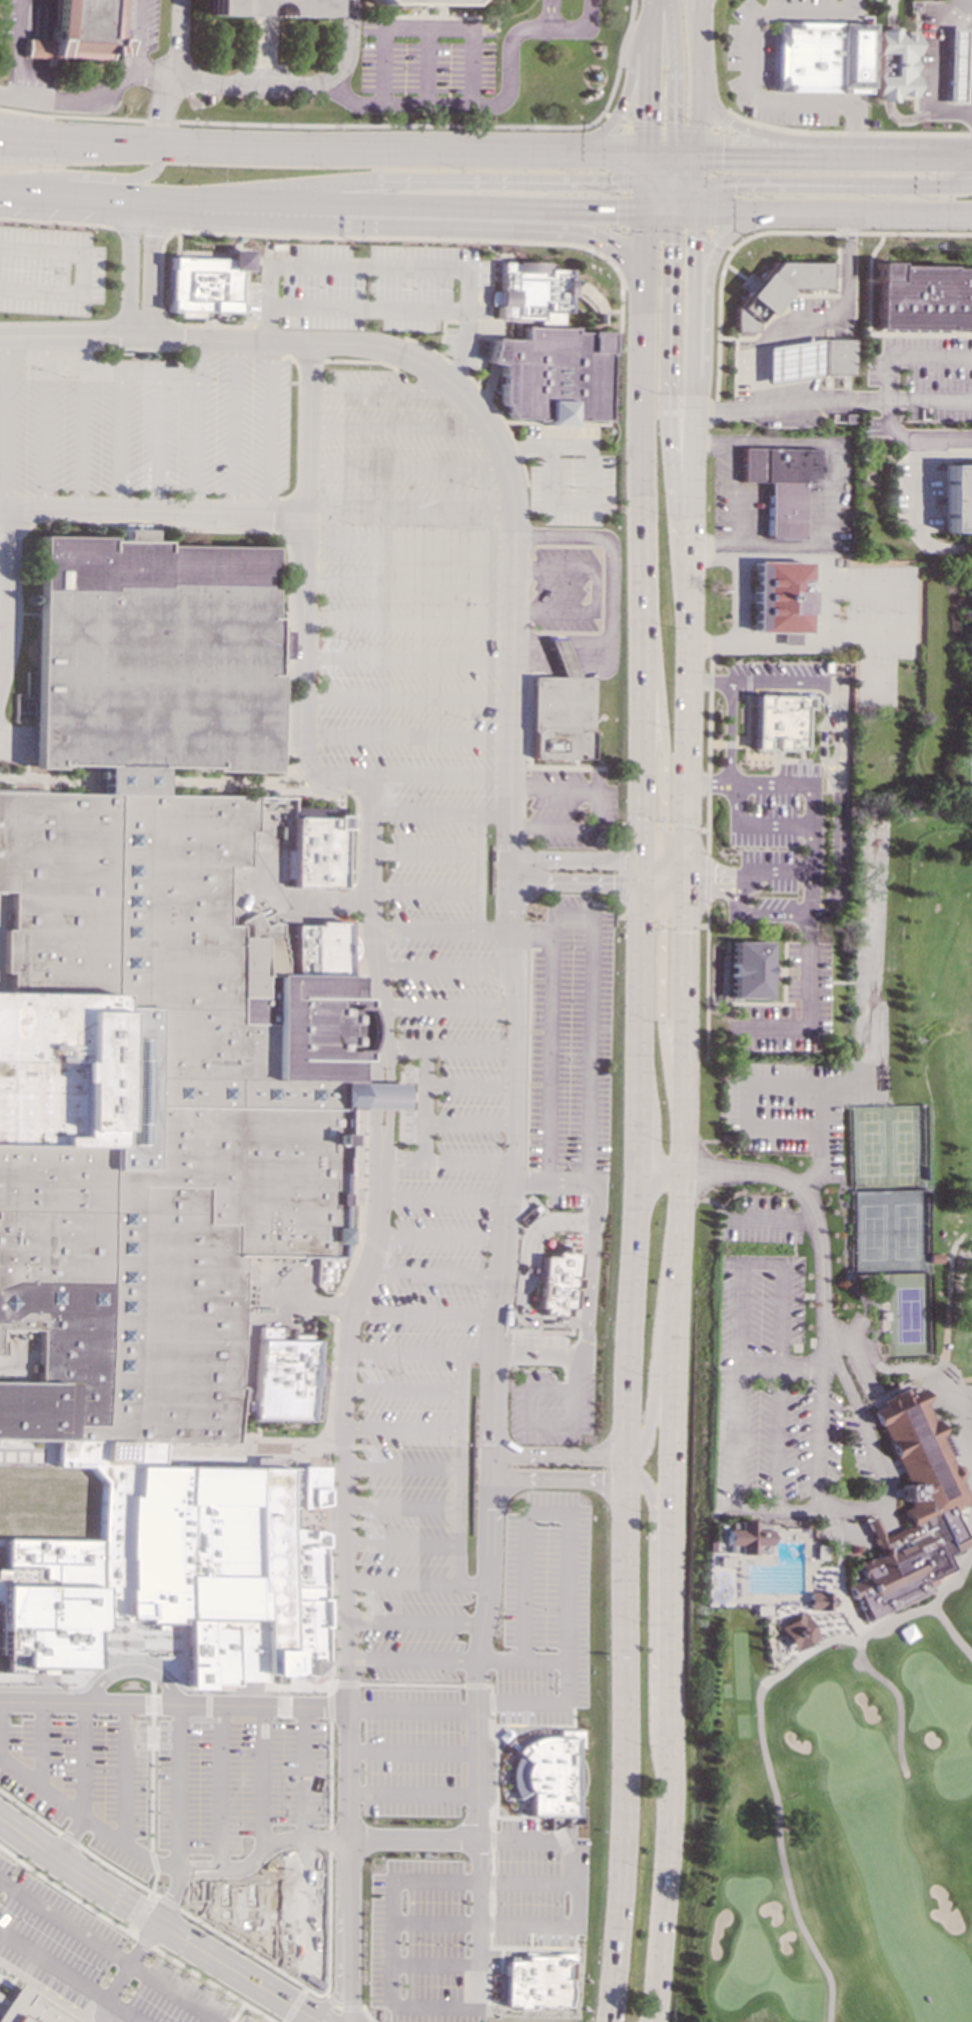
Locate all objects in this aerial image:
building: (420, 2)
road: (697, 2)
road: (698, 2)
building: (297, 8)
road: (548, 15)
road: (648, 26)
building: (83, 28)
road: (345, 45)
road: (17, 47)
building: (821, 58)
building: (893, 64)
building: (953, 65)
road: (696, 66)
road: (753, 68)
road: (673, 76)
road: (613, 86)
road: (624, 95)
road: (90, 101)
road: (381, 102)
road: (647, 102)
road: (165, 114)
traffic signals: (616, 114)
road: (71, 116)
road: (614, 118)
road: (722, 120)
traffic signals: (647, 121)
traffic signals: (673, 122)
road: (345, 125)
road: (670, 127)
road: (849, 132)
road: (765, 134)
road: (27, 140)
road: (696, 141)
road: (913, 142)
road: (854, 148)
road: (350, 150)
road: (659, 153)
road: (684, 154)
traffic signals: (721, 154)
road: (775, 154)
road: (913, 156)
road: (673, 159)
road: (685, 159)
road: (654, 162)
road: (647, 165)
road: (667, 168)
road: (695, 171)
road: (654, 174)
road: (961, 175)
road: (88, 176)
road: (623, 177)
road: (678, 178)
road: (713, 180)
road: (415, 181)
traffic signals: (614, 183)
road: (665, 183)
traffic signals: (729, 184)
road: (822, 185)
road: (961, 186)
road: (688, 189)
road: (646, 193)
road: (675, 193)
road: (64, 194)
road: (695, 199)
road: (688, 201)
road: (387, 203)
road: (657, 203)
road: (669, 203)
traffic signals: (616, 209)
road: (658, 210)
road: (682, 210)
road: (807, 211)
road: (946, 214)
road: (55, 222)
road: (645, 225)
road: (141, 229)
road: (441, 229)
road: (665, 231)
road: (768, 232)
road: (385, 238)
traffic signals: (695, 238)
road: (721, 240)
road: (612, 243)
traffic signals: (672, 243)
traffic signals: (605, 244)
traffic signals: (718, 247)
road: (127, 267)
road: (388, 267)
road: (149, 269)
parking lot: (49, 271)
road: (79, 272)
road: (244, 276)
building: (202, 285)
parking lot: (375, 290)
building: (532, 290)
building: (776, 290)
road: (670, 291)
road: (707, 293)
building: (923, 298)
road: (367, 309)
road: (693, 310)
road: (814, 320)
road: (62, 335)
road: (642, 335)
road: (364, 346)
road: (429, 348)
road: (402, 353)
road: (254, 354)
building: (837, 355)
road: (908, 358)
road: (308, 360)
road: (360, 361)
building: (792, 361)
road: (459, 368)
road: (138, 371)
building: (553, 374)
road: (474, 381)
road: (384, 388)
road: (680, 392)
road: (668, 395)
road: (486, 396)
road: (833, 400)
road: (3, 421)
road: (43, 421)
road: (504, 421)
road: (80, 422)
parking lot: (144, 425)
road: (195, 425)
road: (298, 426)
road: (233, 427)
road: (270, 427)
road: (400, 428)
parking lot: (534, 430)
road: (558, 431)
parking lot: (588, 432)
road: (916, 439)
road: (117, 440)
road: (156, 441)
road: (518, 449)
road: (925, 449)
road: (518, 450)
road: (408, 467)
road: (136, 469)
road: (526, 473)
road: (730, 480)
road: (166, 481)
building: (781, 483)
road: (136, 486)
parking lot: (574, 488)
road: (673, 490)
road: (833, 493)
road: (592, 496)
building: (957, 498)
road: (916, 499)
road: (412, 506)
road: (153, 510)
road: (277, 516)
road: (689, 527)
building: (133, 535)
road: (3, 543)
road: (411, 543)
road: (306, 544)
road: (612, 568)
road: (3, 583)
road: (410, 583)
road: (6, 588)
parking lot: (565, 589)
road: (595, 590)
building: (778, 598)
road: (823, 605)
road: (3, 621)
road: (409, 621)
road: (887, 637)
road: (641, 645)
road: (534, 656)
road: (562, 657)
road: (1, 659)
road: (409, 660)
road: (912, 666)
road: (513, 694)
road: (408, 700)
building: (561, 710)
building: (777, 721)
road: (662, 733)
road: (729, 733)
road: (287, 734)
road: (407, 737)
road: (843, 740)
road: (708, 749)
road: (686, 753)
road: (830, 764)
road: (436, 776)
road: (711, 783)
road: (392, 786)
road: (388, 803)
parking lot: (570, 807)
road: (596, 810)
road: (372, 811)
road: (441, 813)
traffic signals: (640, 818)
traffic signals: (663, 818)
road: (646, 824)
road: (810, 824)
road: (688, 827)
building: (319, 852)
road: (426, 853)
road: (575, 860)
road: (653, 861)
road: (675, 862)
road: (619, 863)
road: (696, 868)
road: (810, 869)
road: (480, 872)
road: (639, 872)
road: (648, 873)
road: (685, 874)
traffic signals: (713, 874)
road: (721, 874)
road: (673, 875)
road: (773, 875)
road: (696, 880)
road: (707, 880)
road: (574, 882)
traffic signals: (612, 883)
road: (648, 884)
road: (671, 885)
road: (426, 891)
road: (355, 899)
road: (278, 901)
road: (619, 908)
road: (753, 913)
road: (572, 915)
road: (637, 919)
road: (373, 924)
road: (679, 924)
road: (359, 928)
road: (440, 930)
traffic signals: (661, 931)
traffic signals: (684, 931)
road: (391, 934)
road: (531, 935)
road: (400, 939)
road: (374, 941)
road: (385, 958)
road: (396, 958)
parking lot: (420, 958)
road: (444, 968)
building: (748, 969)
road: (683, 972)
road: (705, 982)
road: (803, 999)
road: (660, 1007)
road: (448, 1008)
parking lot: (570, 1036)
road: (447, 1048)
road: (378, 1085)
road: (469, 1086)
road: (423, 1104)
building: (158, 1115)
road: (636, 1121)
road: (469, 1124)
park: (884, 1147)
road: (680, 1157)
road: (400, 1159)
road: (468, 1161)
road: (657, 1177)
road: (548, 1181)
parking lot: (562, 1198)
road: (442, 1199)
road: (772, 1221)
park: (886, 1232)
road: (439, 1238)
road: (757, 1264)
road: (593, 1268)
road: (502, 1270)
road: (433, 1275)
road: (526, 1275)
building: (559, 1281)
road: (820, 1312)
road: (426, 1313)
road: (736, 1314)
road: (778, 1314)
park: (909, 1316)
road: (663, 1339)
parking lot: (545, 1341)
road: (424, 1352)
road: (540, 1354)
road: (756, 1365)
road: (799, 1365)
road: (348, 1368)
road: (366, 1369)
road: (372, 1370)
road: (581, 1371)
building: (288, 1379)
road: (408, 1390)
parking lot: (557, 1407)
road: (631, 1408)
road: (861, 1419)
road: (537, 1425)
road: (409, 1427)
road: (777, 1437)
road: (370, 1446)
road: (351, 1447)
road: (338, 1448)
road: (564, 1455)
road: (384, 1457)
road: (634, 1461)
road: (468, 1468)
road: (630, 1468)
road: (410, 1469)
road: (634, 1473)
road: (564, 1478)
road: (733, 1484)
park: (837, 1486)
road: (409, 1505)
building: (912, 1509)
road: (349, 1522)
road: (370, 1523)
road: (377, 1524)
road: (335, 1526)
building: (747, 1536)
road: (575, 1538)
road: (409, 1544)
road: (422, 1582)
road: (369, 1599)
building: (819, 1600)
road: (377, 1602)
road: (351, 1604)
road: (338, 1611)
parking lot: (549, 1612)
road: (189, 1622)
road: (419, 1623)
road: (656, 1625)
road: (951, 1630)
building: (796, 1632)
road: (670, 1639)
road: (414, 1659)
road: (155, 1664)
road: (134, 1670)
road: (155, 1674)
road: (179, 1684)
road: (350, 1684)
road: (414, 1684)
road: (477, 1685)
road: (154, 1687)
road: (336, 1687)
road: (493, 1688)
road: (897, 1694)
road: (493, 1703)
road: (545, 1703)
road: (154, 1704)
road: (175, 1704)
road: (209, 1705)
road: (332, 1707)
road: (414, 1708)
road: (758, 1708)
road: (508, 1714)
road: (526, 1714)
road: (349, 1716)
road: (201, 1719)
road: (546, 1725)
road: (167, 1727)
road: (140, 1729)
road: (44, 1744)
road: (166, 1745)
road: (140, 1747)
road: (414, 1751)
road: (624, 1751)
parking lot: (413, 1752)
road: (478, 1756)
road: (85, 1760)
road: (303, 1772)
parking lot: (490, 1773)
building: (546, 1774)
road: (126, 1775)
road: (331, 1775)
road: (262, 1779)
parking lot: (166, 1782)
road: (179, 1785)
road: (219, 1786)
road: (413, 1794)
road: (151, 1805)
road: (491, 1828)
road: (70, 1836)
road: (330, 1840)
road: (199, 1868)
road: (79, 1870)
road: (523, 1880)
parking lot: (528, 1886)
road: (572, 1887)
road: (66, 1894)
road: (172, 1895)
road: (302, 1899)
building: (245, 1911)
road: (139, 1913)
road: (65, 1920)
road: (434, 1923)
road: (477, 1929)
road: (220, 1935)
road: (543, 1937)
road: (563, 1937)
road: (143, 1942)
road: (390, 1942)
parking lot: (422, 1945)
road: (542, 1948)
road: (132, 1960)
parking lot: (93, 1961)
road: (53, 1966)
road: (230, 1966)
road: (433, 1966)
building: (537, 1980)
road: (212, 1984)
road: (176, 1993)
road: (349, 1993)
road: (330, 1999)
road: (333, 1999)
building: (2, 2001)
road: (294, 2005)
building: (29, 2008)
road: (337, 2008)
road: (351, 2008)
road: (652, 2011)
road: (122, 2012)
road: (367, 2015)
road: (309, 2017)
traffic signals: (609, 2018)

